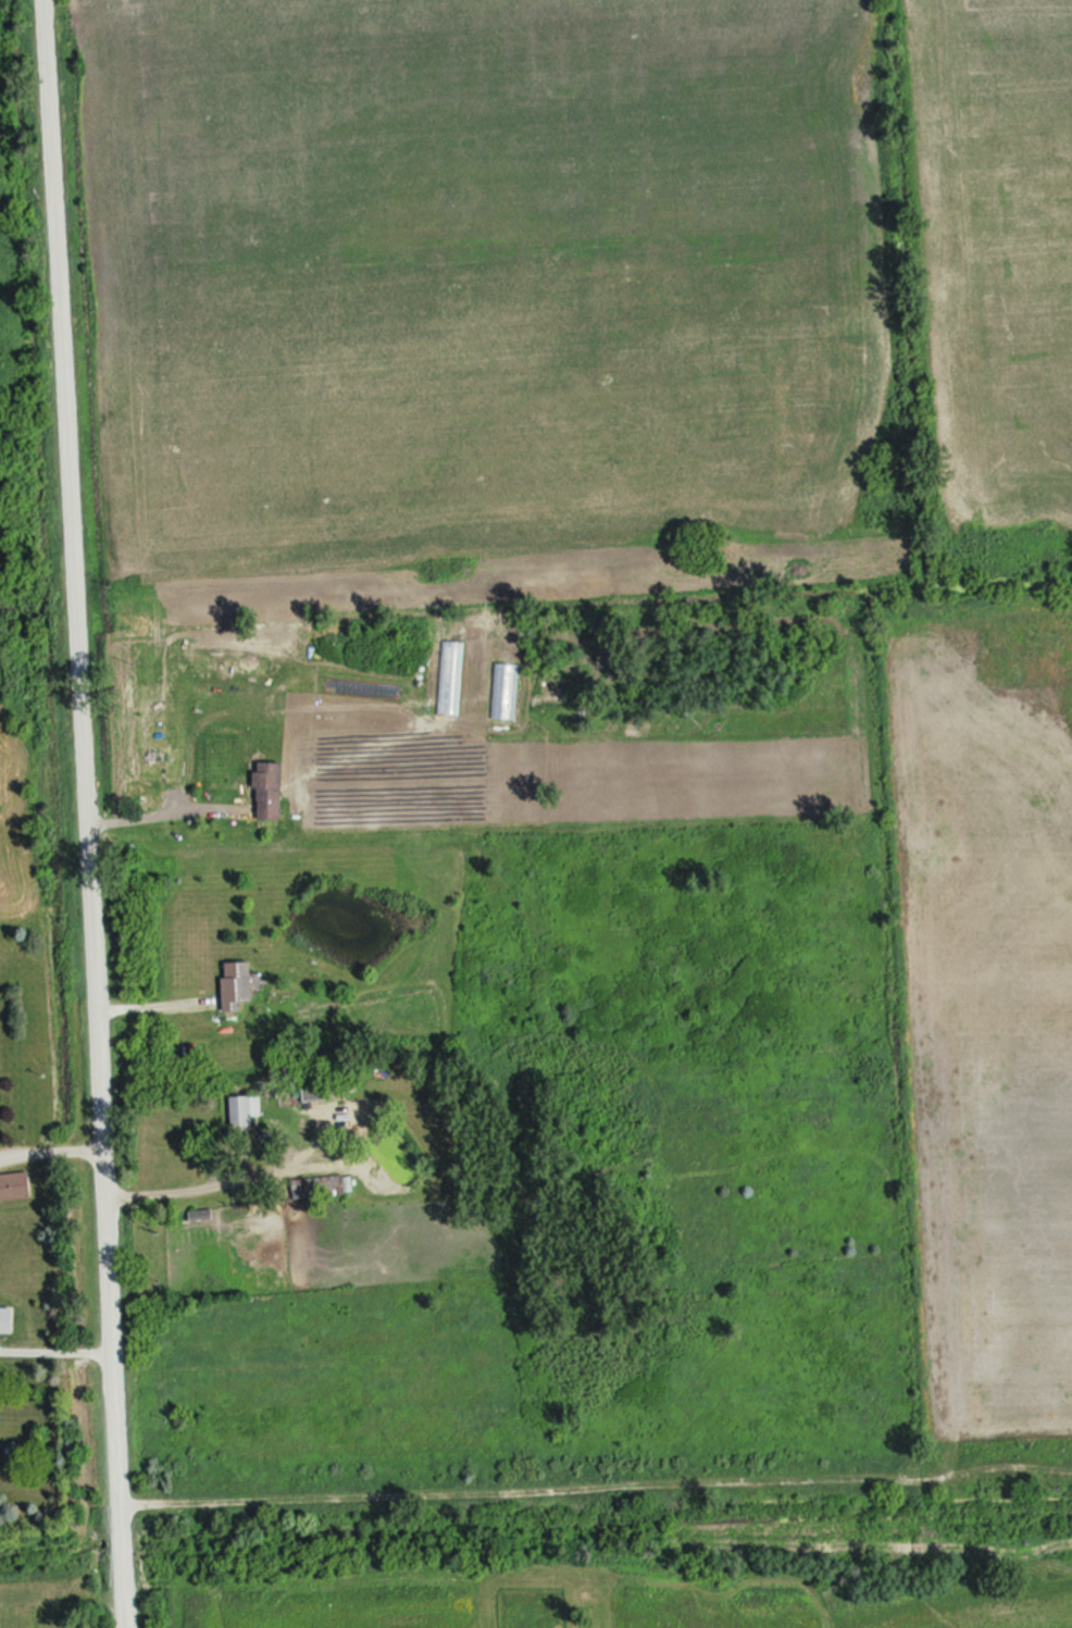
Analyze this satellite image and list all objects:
building: (269, 792)
road: (162, 804)
road: (80, 813)
building: (237, 986)
road: (151, 999)
building: (245, 1111)
road: (48, 1153)
road: (214, 1175)
building: (15, 1188)
building: (319, 1189)
building: (7, 1322)
road: (53, 1346)

